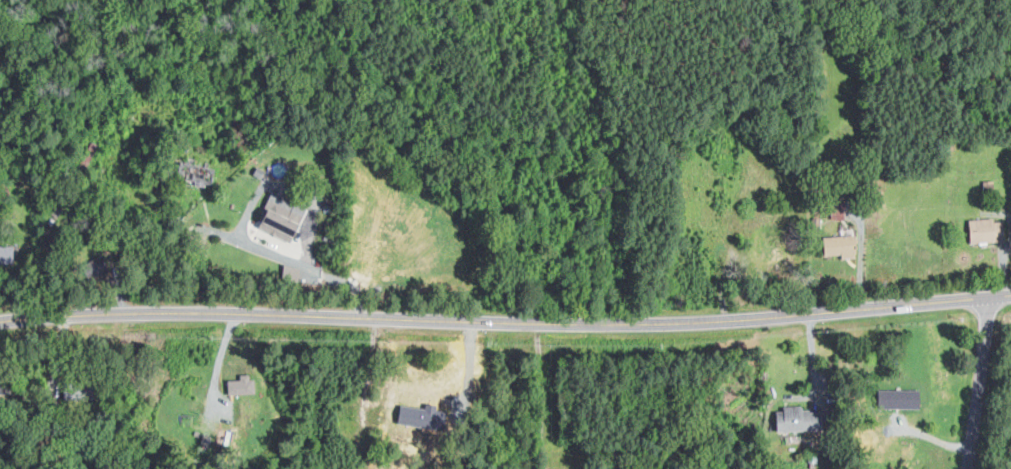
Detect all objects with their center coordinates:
building: (838, 212)
building: (282, 217)
building: (988, 230)
building: (842, 245)
building: (7, 257)
road: (861, 257)
road: (505, 319)
road: (977, 381)
building: (242, 385)
building: (900, 398)
building: (800, 419)

